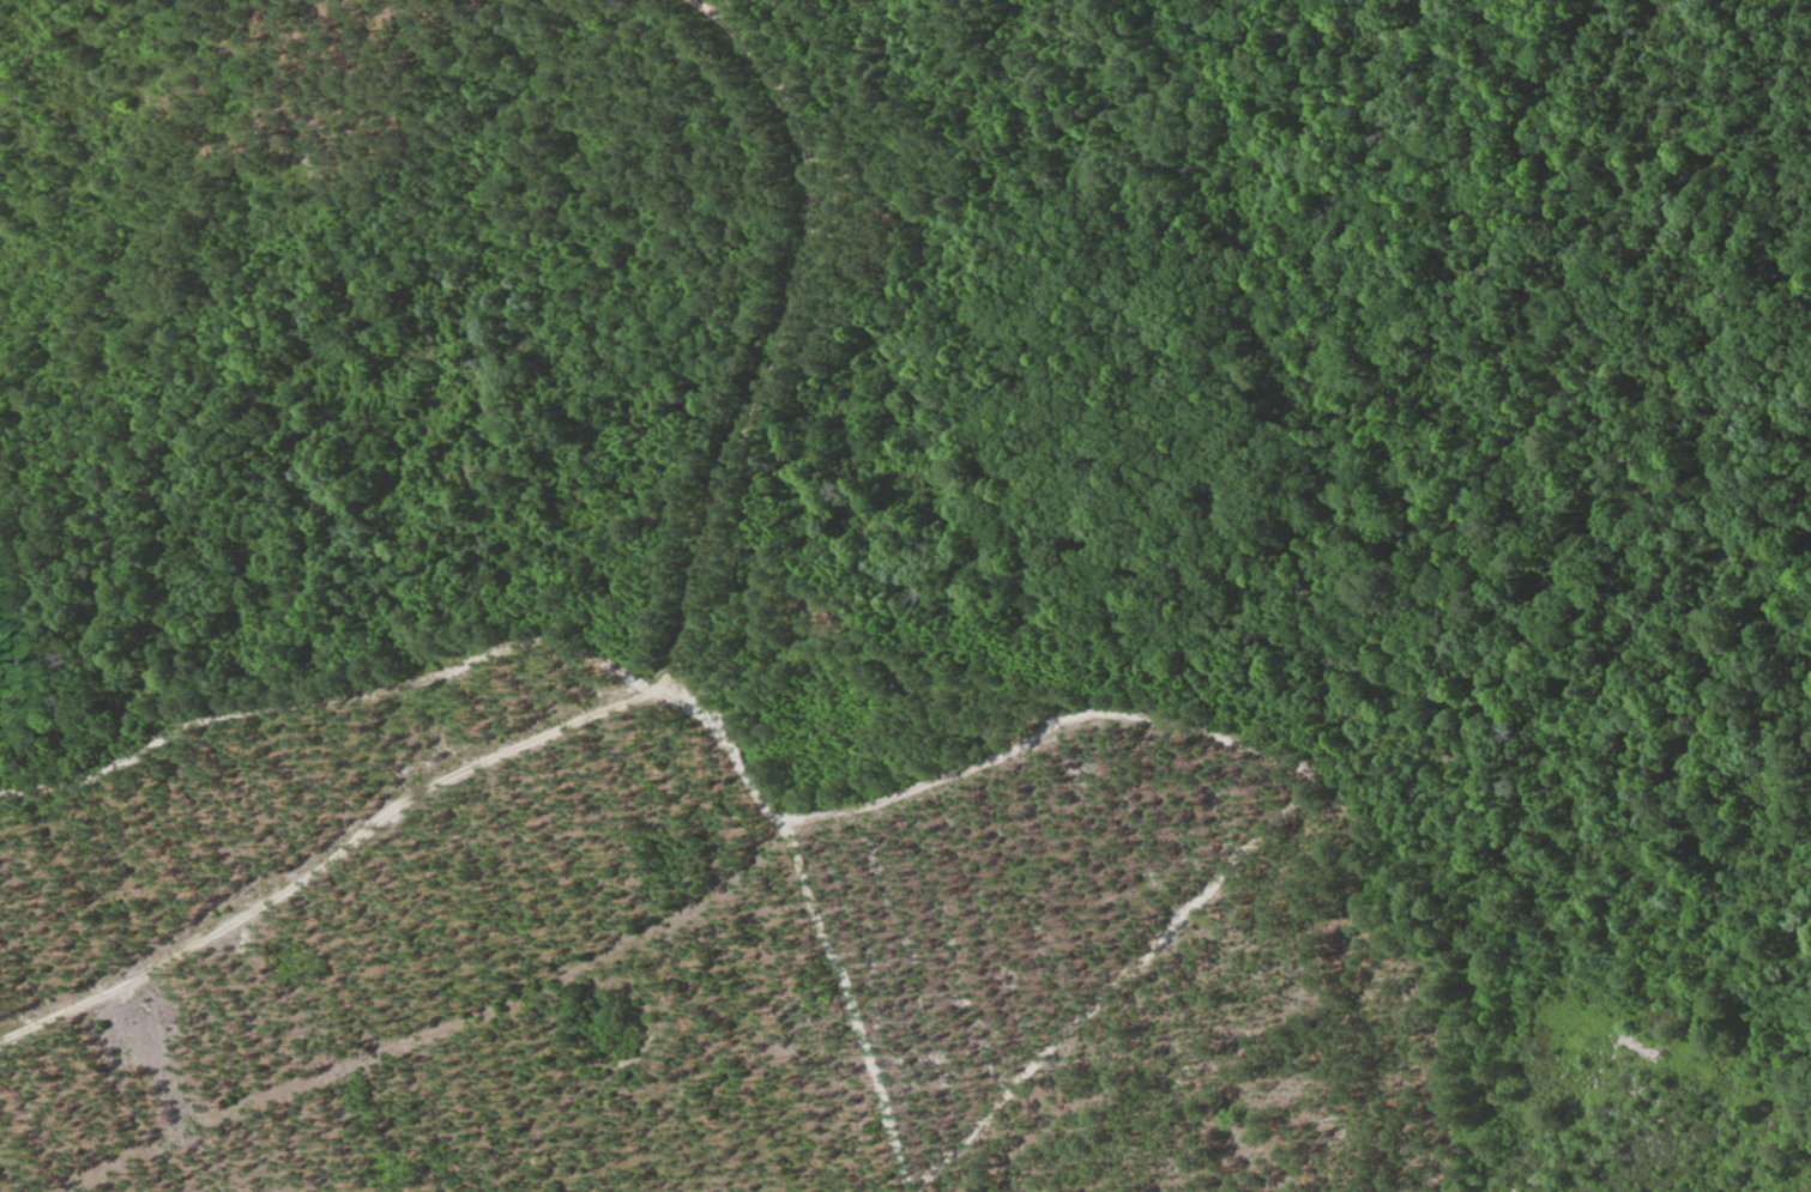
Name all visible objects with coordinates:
road: (786, 333)
road: (331, 858)
road: (822, 915)
road: (920, 1188)

